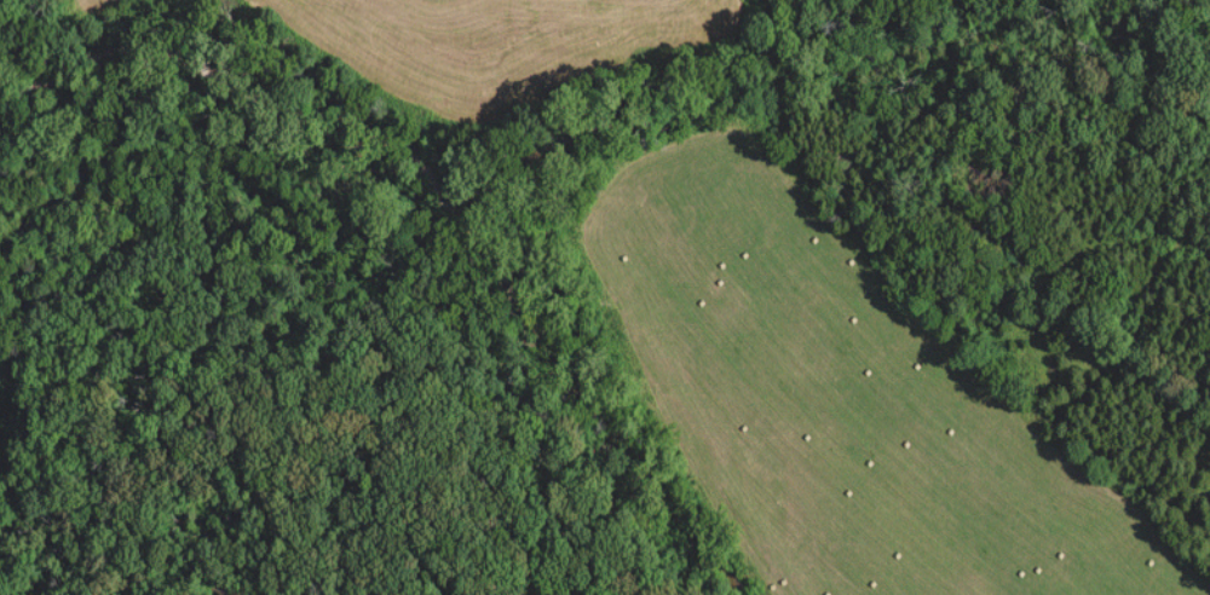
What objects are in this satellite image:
crop: (455, 45)

